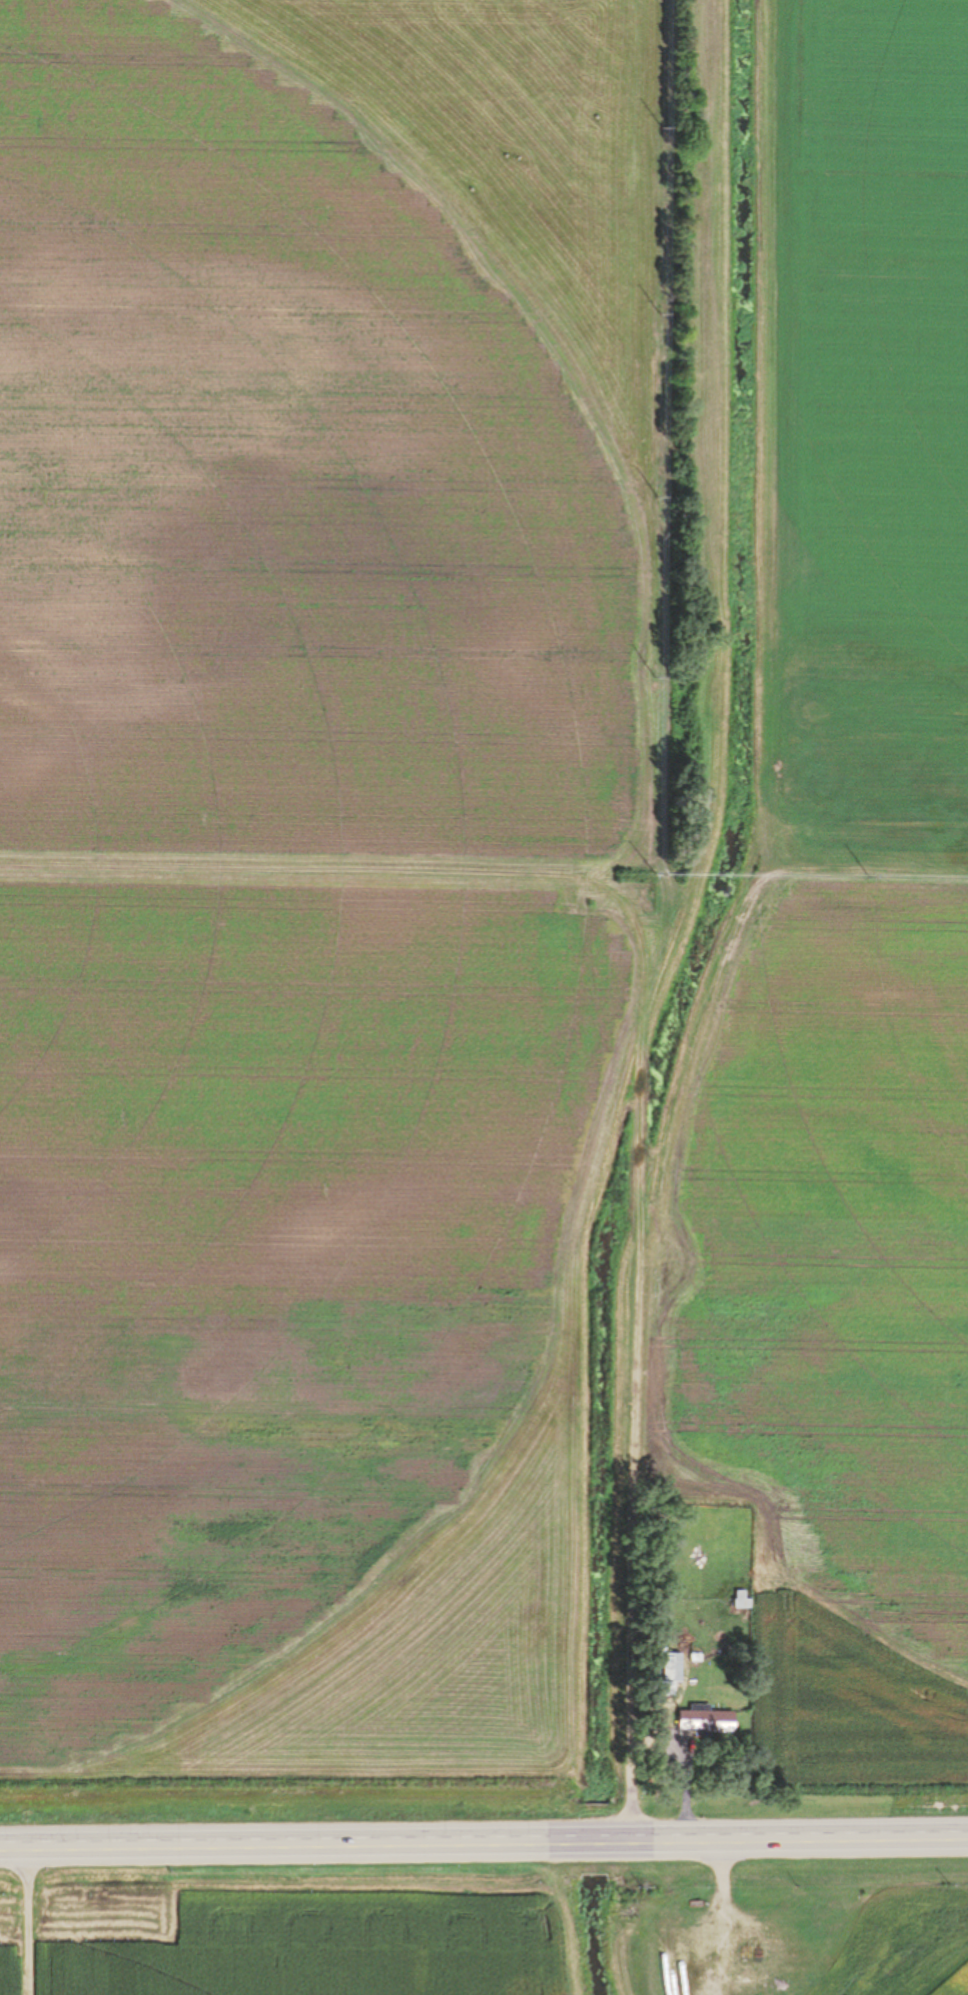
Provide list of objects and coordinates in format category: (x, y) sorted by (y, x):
building: (742, 1600)
building: (687, 1652)
building: (697, 1658)
building: (668, 1672)
building: (707, 1720)
road: (483, 1845)
road: (33, 1923)
crop: (828, 1942)

